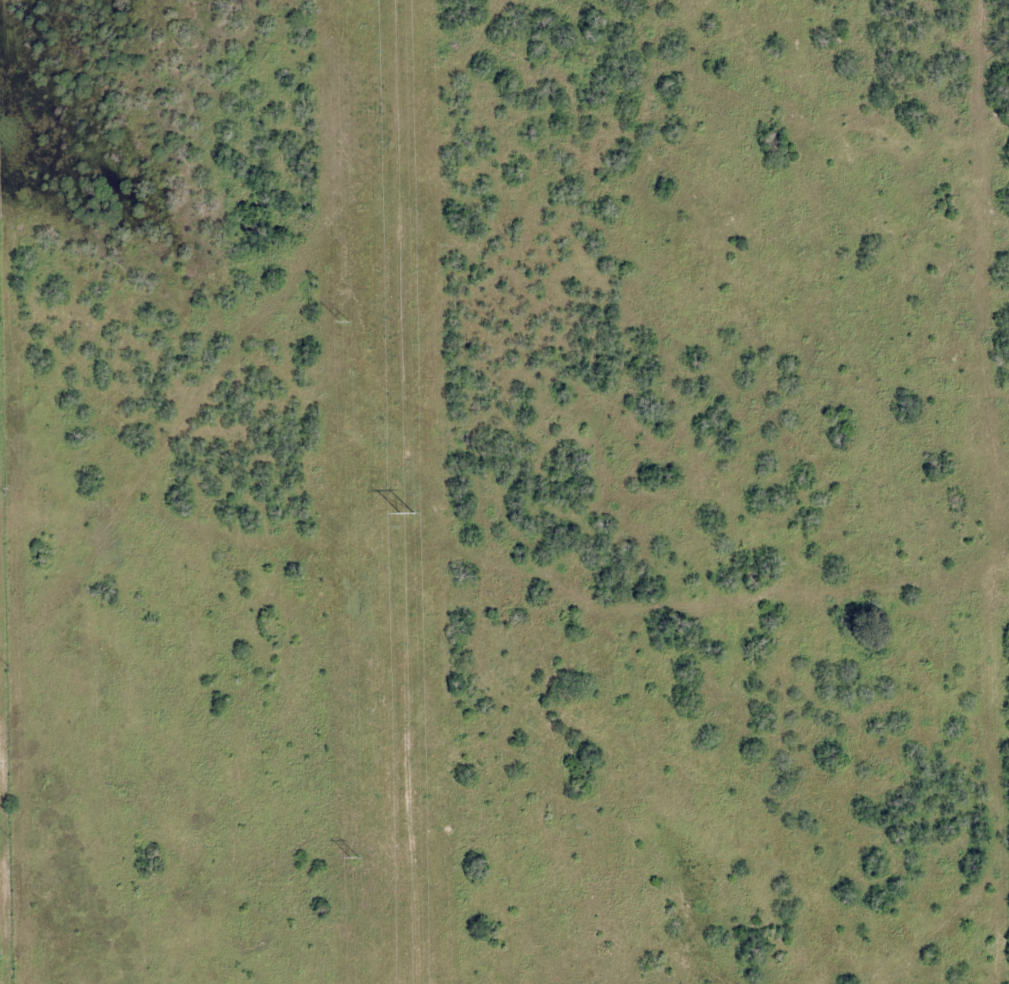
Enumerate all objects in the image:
power tower: (344, 321)
power tower: (404, 516)
power tower: (354, 858)

